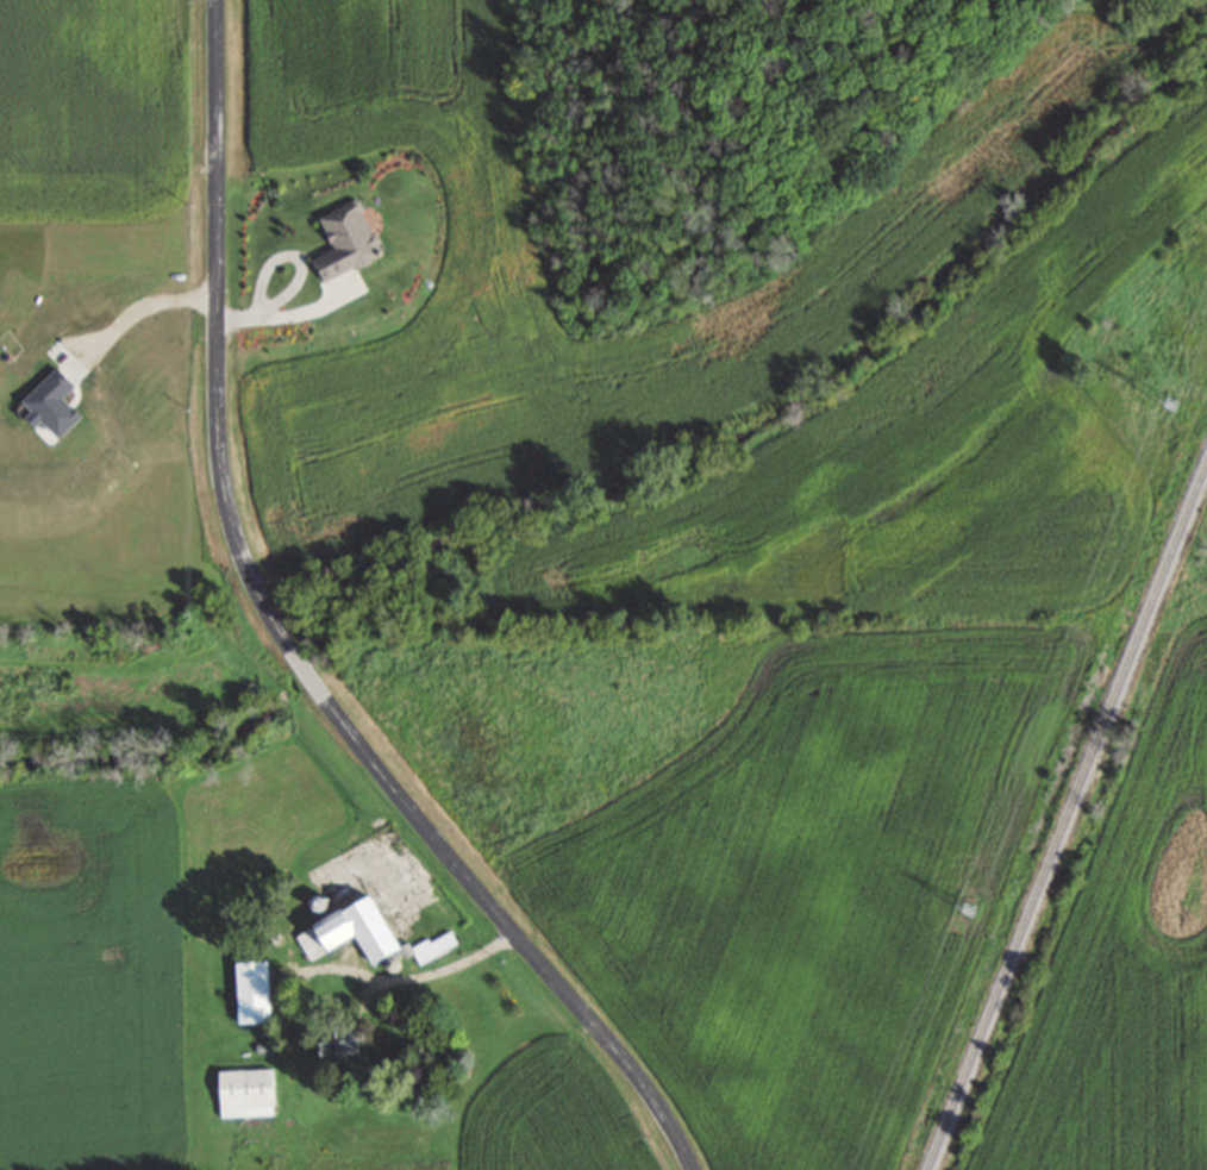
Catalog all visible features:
road: (133, 309)
road: (215, 337)
road: (302, 670)
railway: (1069, 822)
road: (504, 924)
building: (364, 933)
road: (356, 972)
building: (249, 990)
building: (340, 1044)
building: (243, 1091)

